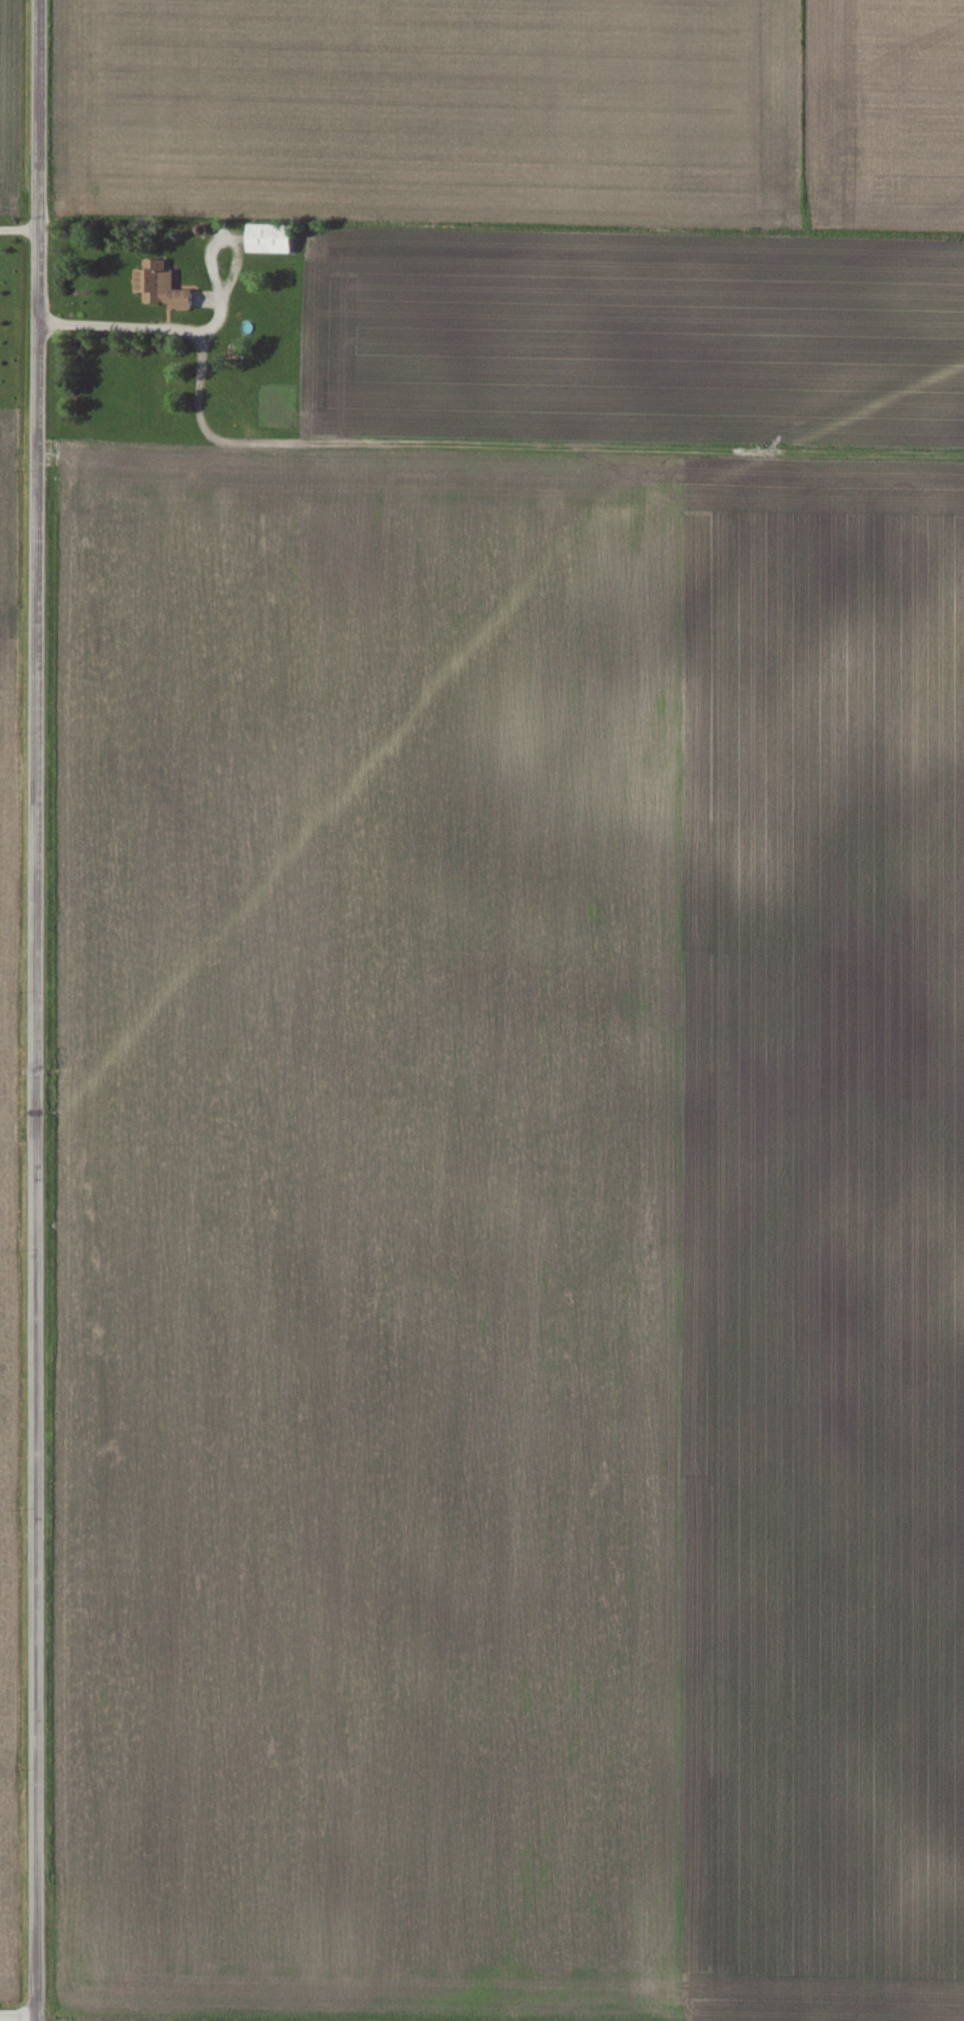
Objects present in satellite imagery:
road: (21, 230)
building: (273, 239)
road: (213, 328)
road: (42, 1010)
road: (17, 2007)

